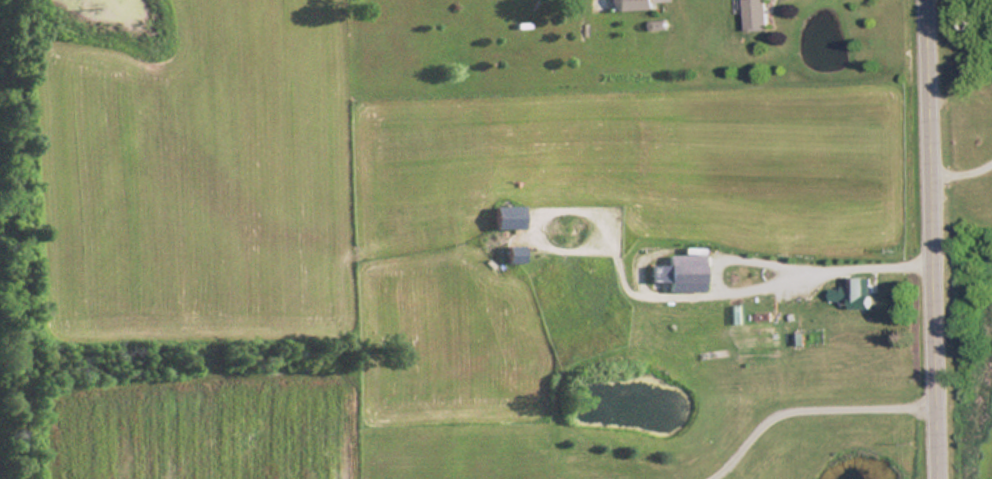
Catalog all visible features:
building: (635, 4)
building: (756, 15)
road: (963, 173)
building: (508, 218)
road: (933, 239)
building: (514, 256)
road: (830, 274)
building: (678, 275)
building: (856, 294)
road: (810, 414)

